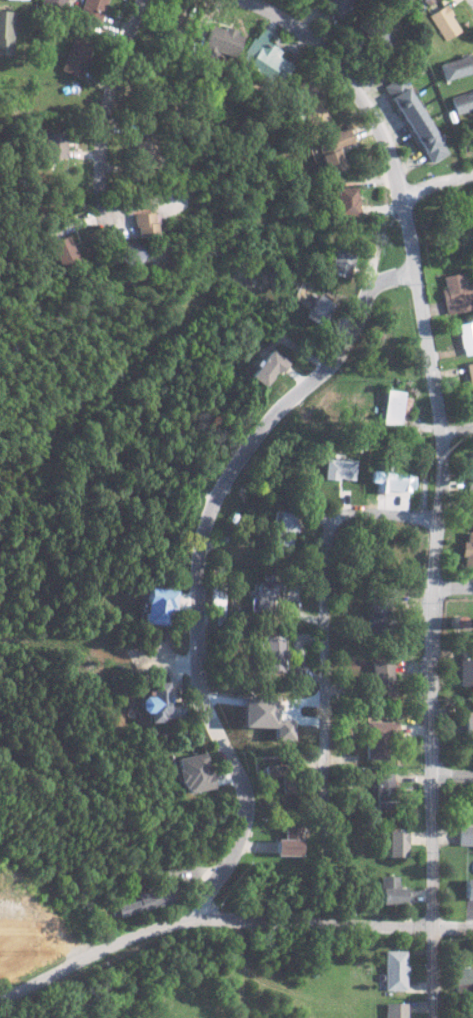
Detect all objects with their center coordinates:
building: (55, 3)
building: (336, 7)
building: (93, 9)
building: (443, 22)
building: (6, 32)
building: (378, 38)
building: (219, 45)
building: (76, 59)
building: (264, 61)
building: (455, 67)
building: (461, 102)
road: (106, 105)
building: (306, 105)
building: (413, 120)
building: (53, 145)
building: (333, 151)
building: (146, 152)
road: (437, 184)
building: (346, 202)
building: (146, 224)
building: (64, 250)
building: (131, 251)
building: (342, 262)
building: (457, 293)
building: (319, 308)
building: (466, 336)
building: (268, 367)
building: (470, 373)
building: (394, 407)
road: (459, 431)
building: (341, 468)
road: (446, 472)
building: (471, 476)
building: (394, 481)
building: (285, 529)
road: (204, 530)
building: (468, 551)
road: (454, 589)
building: (264, 592)
building: (217, 603)
building: (159, 605)
road: (330, 613)
water tower: (454, 622)
building: (273, 653)
building: (466, 669)
building: (383, 678)
building: (161, 705)
building: (262, 711)
building: (469, 724)
building: (380, 738)
building: (195, 772)
road: (453, 774)
building: (281, 776)
building: (384, 790)
building: (466, 834)
building: (290, 840)
building: (397, 843)
building: (470, 888)
building: (392, 890)
building: (150, 900)
road: (211, 923)
road: (455, 927)
building: (396, 969)
building: (464, 979)
building: (397, 1010)

